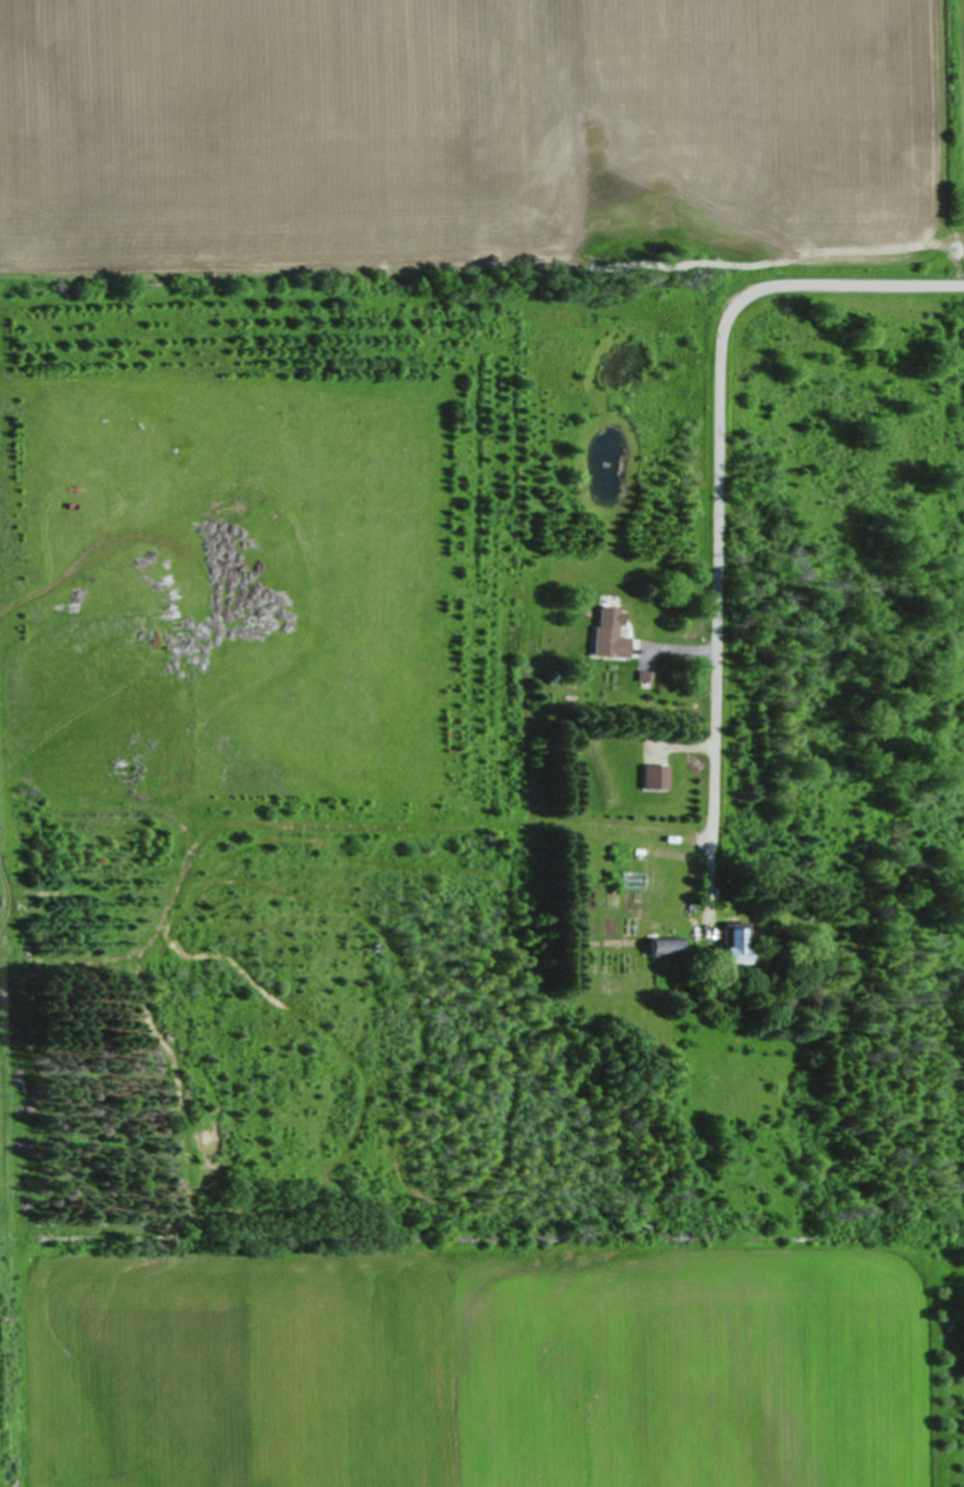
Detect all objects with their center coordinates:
road: (719, 487)
building: (608, 633)
building: (655, 776)
building: (735, 943)
building: (665, 945)

